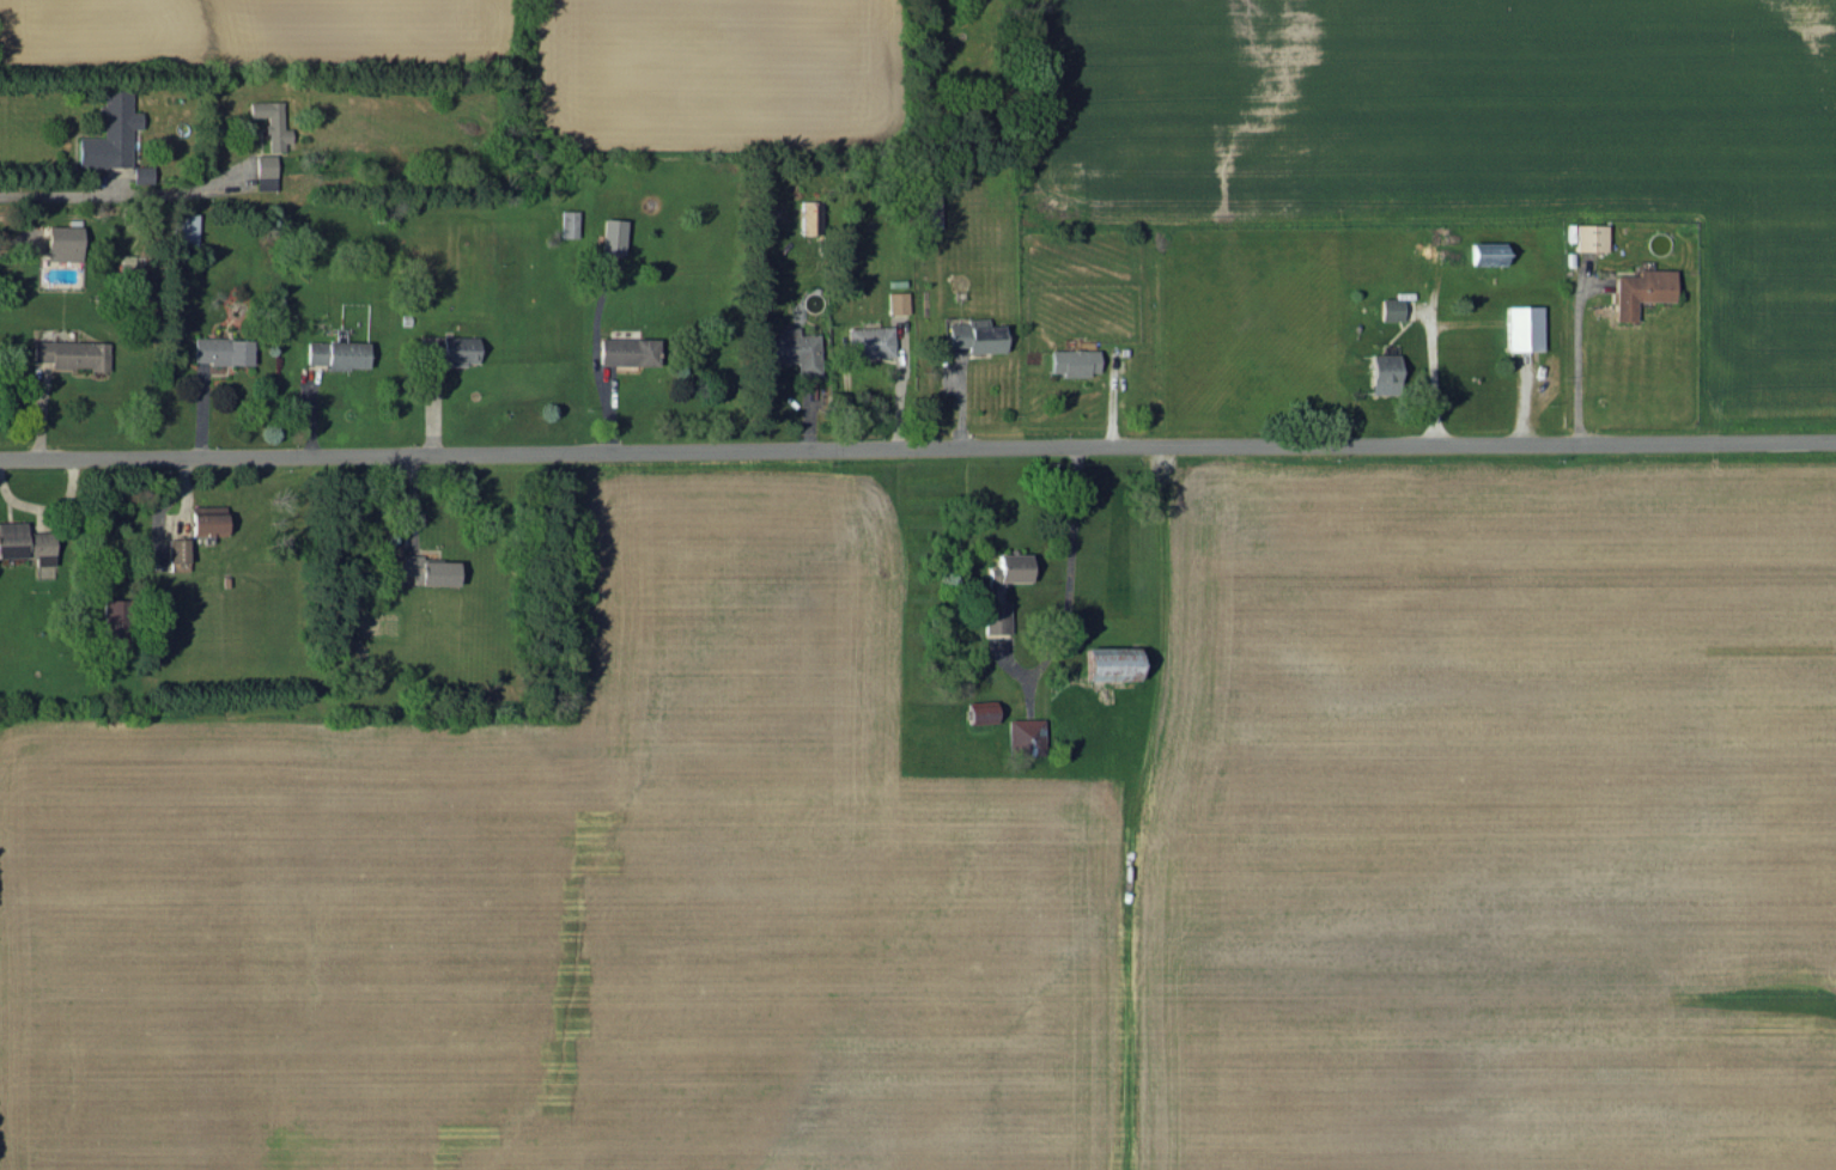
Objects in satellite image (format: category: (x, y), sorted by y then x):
building: (269, 122)
building: (109, 132)
building: (263, 171)
building: (140, 173)
road: (116, 194)
building: (809, 217)
building: (567, 223)
building: (183, 228)
building: (612, 236)
building: (1588, 237)
building: (61, 242)
building: (1484, 252)
building: (1640, 290)
building: (895, 301)
building: (1388, 309)
building: (1521, 327)
building: (973, 335)
building: (869, 341)
building: (791, 348)
building: (220, 349)
building: (448, 349)
building: (627, 351)
building: (71, 353)
building: (336, 353)
building: (1072, 361)
road: (1574, 362)
building: (1380, 370)
road: (917, 449)
building: (206, 519)
building: (25, 542)
building: (177, 549)
building: (1007, 568)
building: (427, 569)
road: (1065, 587)
building: (993, 616)
building: (113, 620)
building: (1107, 663)
building: (979, 711)
building: (1023, 735)

